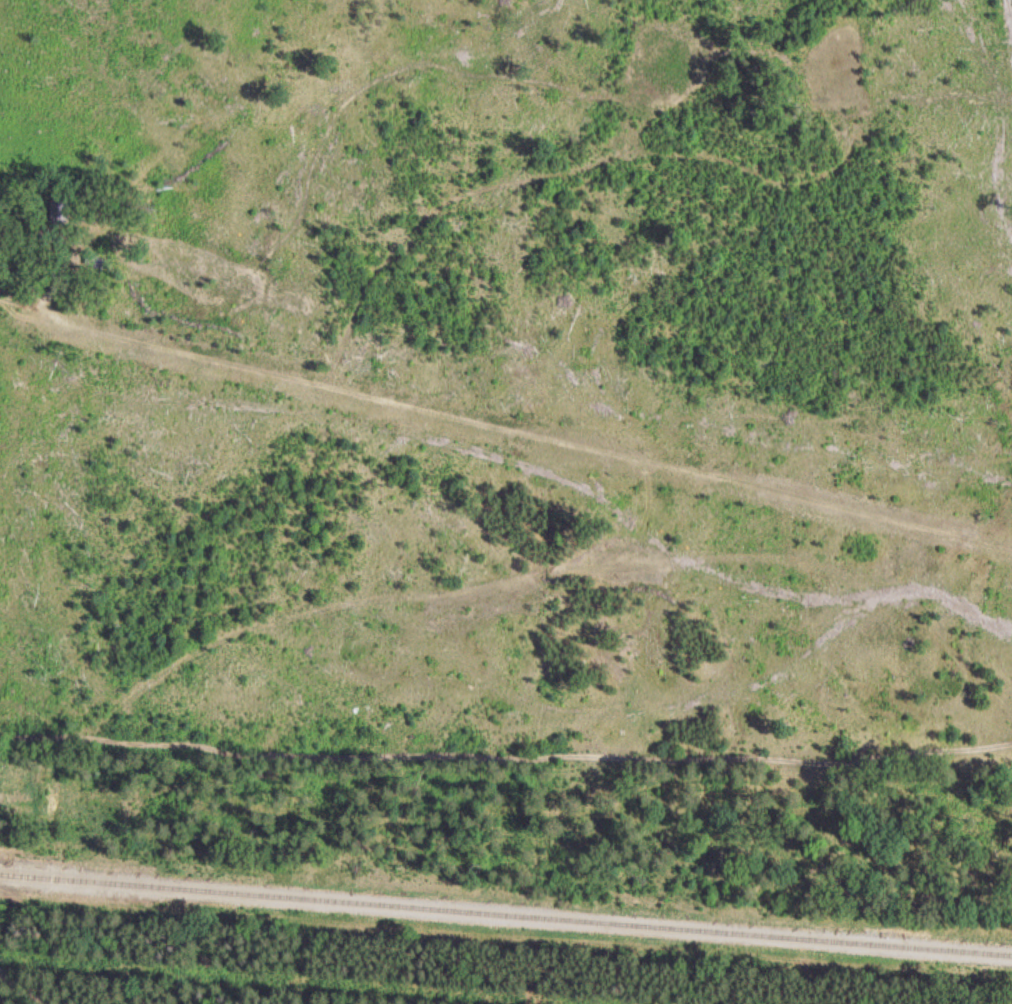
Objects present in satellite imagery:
road: (506, 739)
railway: (506, 916)
road: (21, 982)

